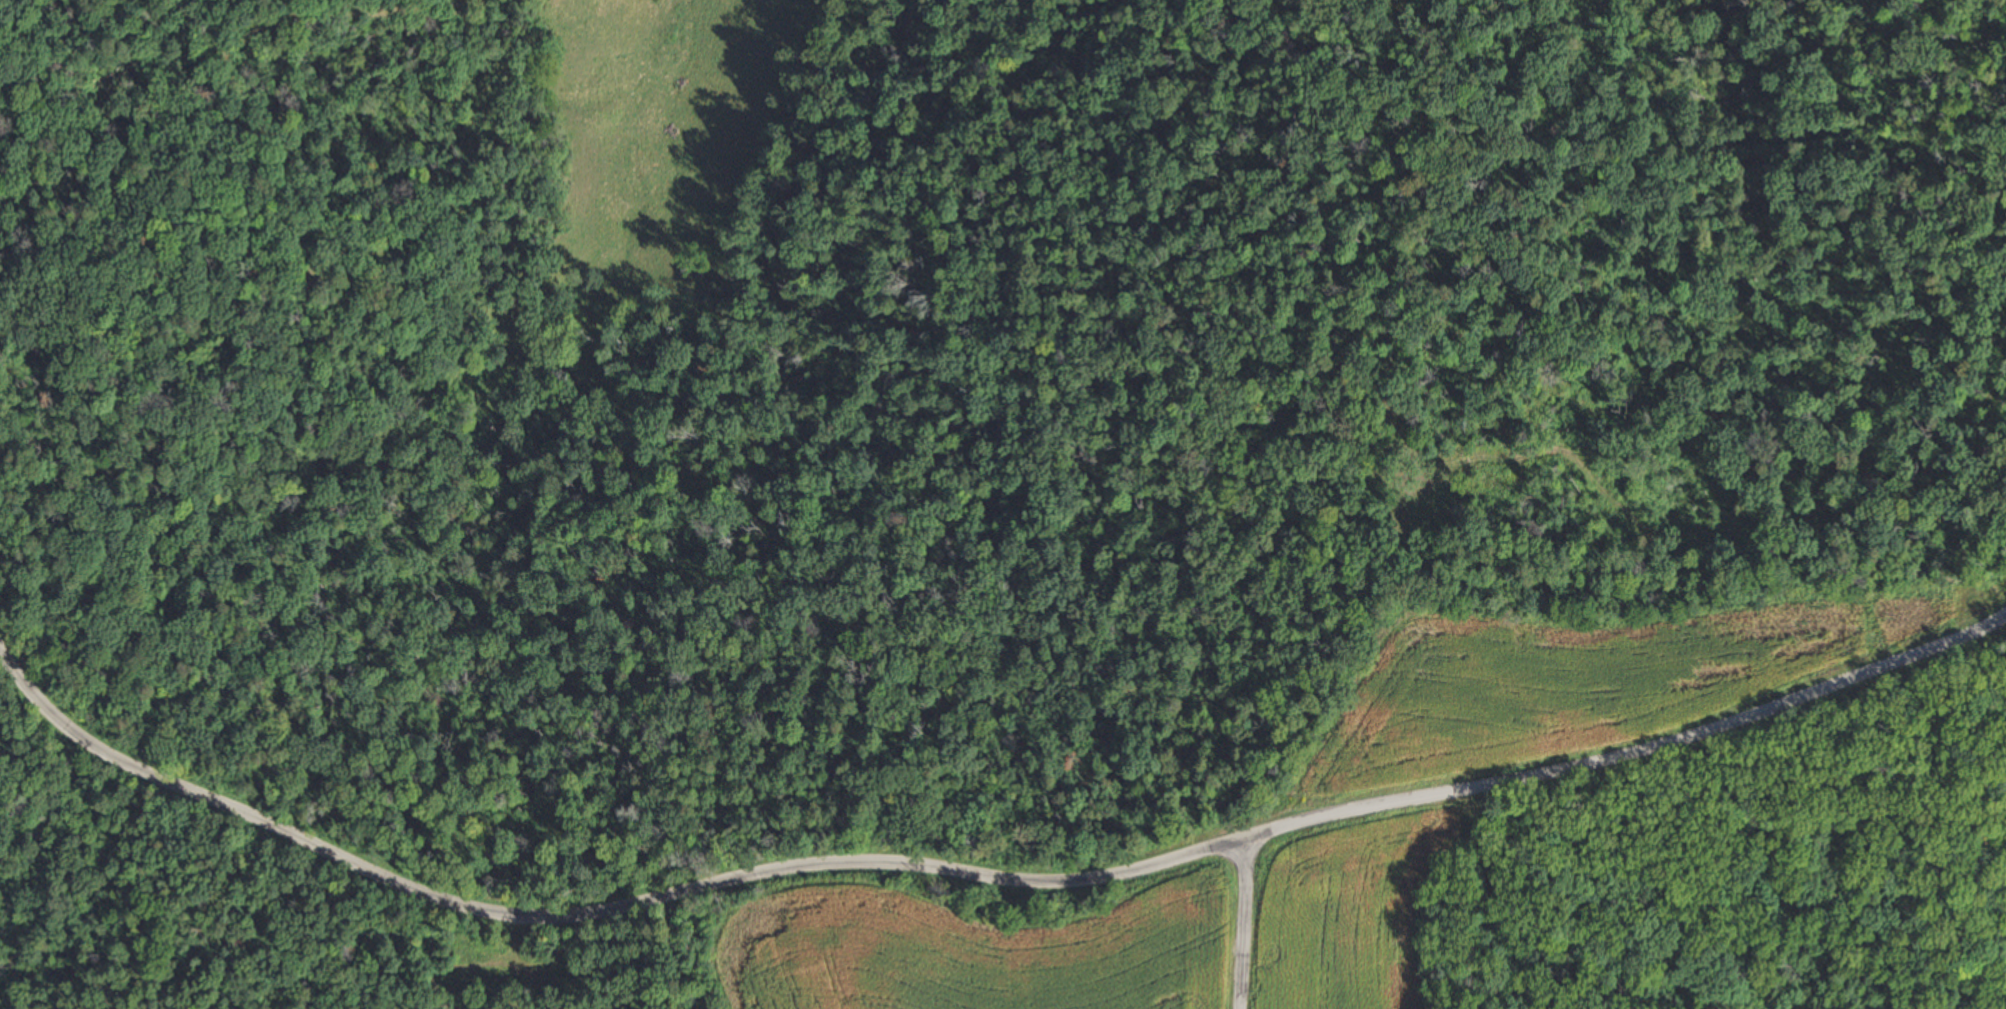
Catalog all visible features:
road: (981, 874)
road: (1246, 922)

